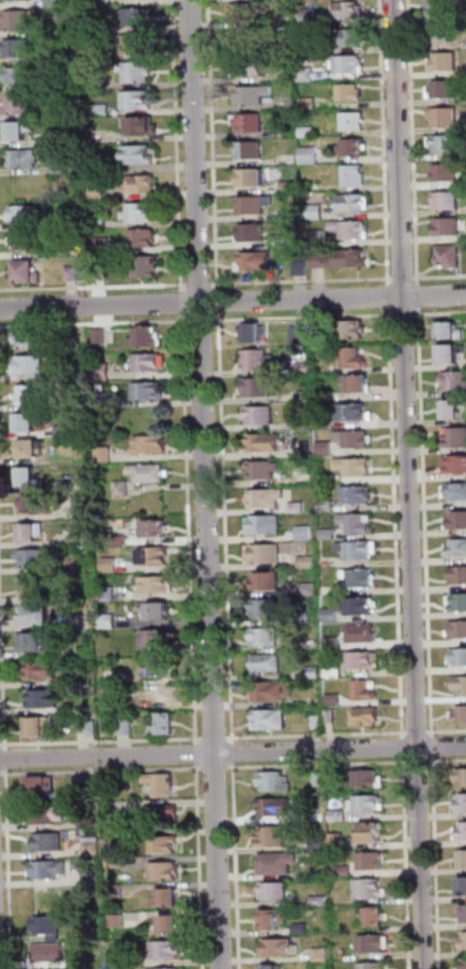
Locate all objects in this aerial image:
building: (21, 0)
building: (57, 3)
building: (443, 6)
building: (348, 11)
building: (244, 12)
building: (138, 16)
building: (312, 17)
building: (20, 20)
building: (90, 28)
building: (445, 33)
building: (350, 38)
building: (249, 39)
building: (136, 43)
building: (21, 49)
building: (71, 57)
building: (446, 62)
building: (351, 65)
building: (252, 67)
building: (139, 72)
building: (308, 74)
building: (23, 76)
building: (103, 83)
building: (60, 84)
building: (444, 91)
building: (352, 92)
building: (255, 94)
building: (139, 100)
building: (21, 103)
building: (311, 103)
building: (104, 110)
building: (446, 116)
building: (356, 121)
building: (250, 122)
building: (144, 126)
building: (21, 130)
building: (310, 132)
building: (64, 140)
road: (386, 142)
road: (415, 142)
building: (445, 144)
road: (179, 146)
road: (215, 146)
building: (356, 147)
building: (252, 150)
building: (141, 155)
building: (311, 156)
building: (26, 159)
building: (100, 164)
building: (62, 168)
building: (448, 172)
building: (356, 176)
building: (253, 177)
building: (144, 184)
building: (314, 186)
building: (291, 187)
building: (100, 192)
building: (448, 201)
building: (356, 204)
building: (257, 205)
building: (144, 212)
building: (318, 212)
building: (292, 213)
building: (26, 214)
building: (102, 222)
building: (449, 226)
building: (353, 229)
building: (255, 232)
building: (145, 237)
building: (320, 237)
building: (288, 240)
building: (29, 241)
building: (105, 245)
building: (451, 256)
building: (343, 259)
building: (257, 261)
building: (148, 267)
building: (303, 268)
building: (28, 272)
building: (74, 273)
road: (441, 277)
road: (405, 278)
road: (303, 281)
road: (202, 285)
road: (95, 287)
road: (421, 296)
road: (391, 297)
road: (232, 301)
road: (221, 302)
road: (185, 304)
road: (441, 313)
road: (406, 314)
road: (305, 317)
road: (204, 320)
road: (97, 324)
building: (356, 329)
building: (452, 331)
building: (255, 333)
building: (303, 334)
building: (103, 336)
building: (147, 338)
building: (322, 338)
building: (33, 339)
building: (452, 353)
building: (354, 359)
building: (260, 360)
building: (150, 363)
building: (32, 365)
building: (305, 368)
building: (78, 372)
building: (103, 372)
building: (456, 380)
building: (360, 383)
building: (259, 388)
building: (150, 392)
building: (33, 395)
building: (325, 396)
building: (306, 397)
building: (454, 410)
building: (352, 412)
building: (262, 416)
building: (30, 422)
building: (327, 423)
building: (65, 432)
building: (457, 438)
building: (356, 439)
building: (266, 443)
building: (153, 445)
building: (328, 448)
building: (31, 449)
building: (106, 454)
building: (456, 464)
building: (356, 467)
building: (265, 470)
building: (151, 472)
building: (30, 479)
building: (328, 479)
road: (207, 484)
road: (411, 484)
building: (68, 487)
building: (124, 489)
building: (456, 492)
building: (359, 495)
building: (267, 499)
building: (39, 503)
building: (330, 506)
building: (299, 508)
building: (458, 521)
road: (398, 523)
road: (427, 523)
building: (360, 524)
building: (266, 525)
building: (155, 529)
road: (228, 529)
road: (192, 530)
building: (33, 533)
building: (307, 534)
building: (330, 535)
building: (82, 540)
building: (121, 540)
building: (458, 549)
building: (360, 550)
building: (265, 554)
building: (156, 557)
building: (35, 559)
building: (309, 562)
building: (111, 565)
building: (328, 565)
building: (459, 576)
building: (361, 578)
building: (268, 582)
building: (159, 586)
building: (32, 587)
building: (333, 591)
building: (109, 593)
building: (458, 603)
building: (361, 607)
building: (267, 608)
building: (158, 611)
building: (332, 615)
building: (38, 616)
building: (304, 618)
building: (110, 622)
road: (3, 626)
building: (461, 630)
building: (364, 634)
building: (267, 637)
building: (159, 639)
building: (36, 643)
building: (334, 643)
building: (86, 652)
building: (460, 657)
building: (365, 661)
building: (269, 664)
building: (335, 665)
building: (161, 668)
building: (43, 671)
building: (315, 673)
building: (112, 674)
building: (336, 674)
building: (461, 686)
building: (367, 691)
building: (276, 692)
building: (156, 693)
building: (45, 699)
building: (335, 700)
building: (461, 715)
building: (332, 716)
building: (367, 717)
building: (272, 720)
building: (319, 722)
building: (165, 725)
building: (39, 727)
building: (93, 728)
building: (127, 728)
road: (447, 731)
road: (419, 732)
road: (318, 735)
road: (217, 739)
road: (102, 741)
road: (405, 743)
road: (435, 747)
road: (235, 749)
road: (199, 754)
road: (233, 754)
road: (8, 760)
road: (448, 761)
road: (425, 762)
road: (211, 769)
road: (103, 771)
road: (0, 774)
building: (337, 777)
building: (462, 777)
building: (321, 779)
building: (370, 780)
building: (277, 782)
building: (89, 783)
building: (163, 785)
building: (43, 787)
building: (370, 804)
building: (462, 804)
building: (276, 808)
building: (49, 815)
building: (163, 815)
building: (90, 822)
building: (463, 831)
building: (372, 834)
building: (115, 837)
building: (274, 837)
building: (338, 842)
building: (49, 843)
building: (166, 845)
building: (93, 846)
building: (320, 846)
building: (464, 860)
building: (373, 861)
road: (438, 863)
building: (278, 864)
road: (202, 866)
road: (10, 869)
building: (49, 870)
building: (345, 871)
building: (166, 872)
building: (94, 878)
building: (463, 887)
building: (371, 890)
building: (118, 891)
building: (277, 892)
building: (168, 899)
building: (321, 901)
building: (464, 912)
building: (377, 918)
building: (274, 920)
building: (119, 921)
building: (48, 926)
building: (172, 926)
building: (303, 929)
building: (56, 938)
building: (375, 944)
building: (464, 944)
building: (282, 949)
building: (167, 950)
building: (50, 953)
building: (323, 955)
building: (138, 962)
building: (463, 963)
building: (374, 966)
building: (275, 967)
building: (164, 968)

